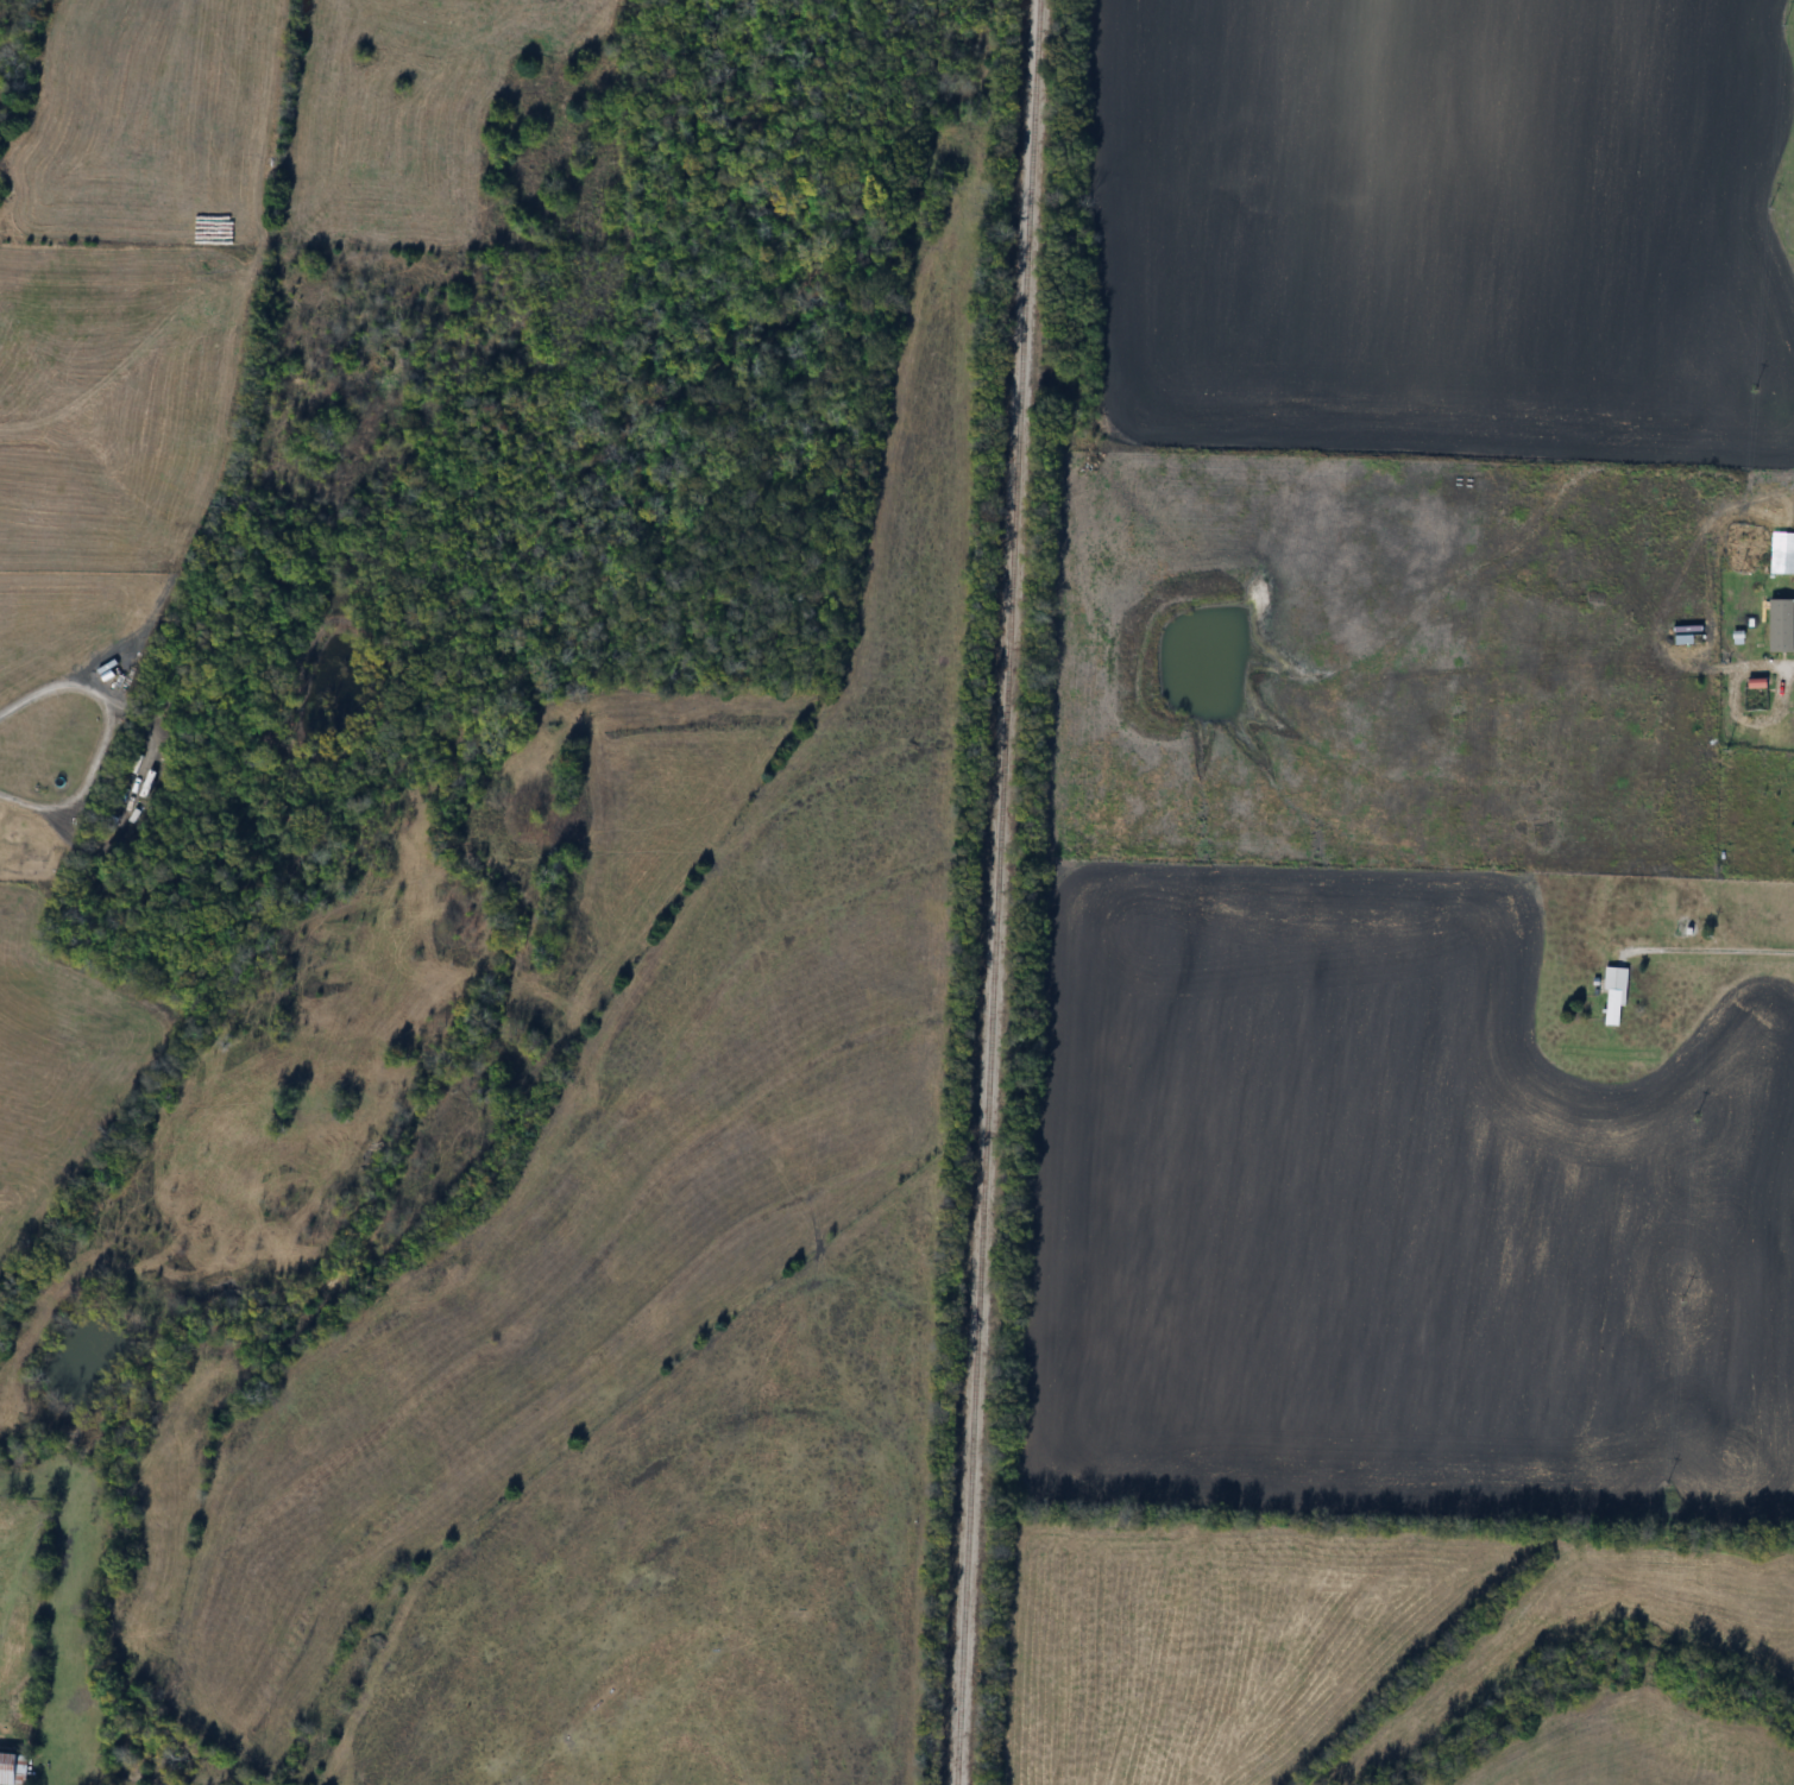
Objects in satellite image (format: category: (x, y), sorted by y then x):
building: (1782, 626)
railway: (993, 891)
road: (1704, 948)
building: (1613, 996)
building: (13, 1768)

